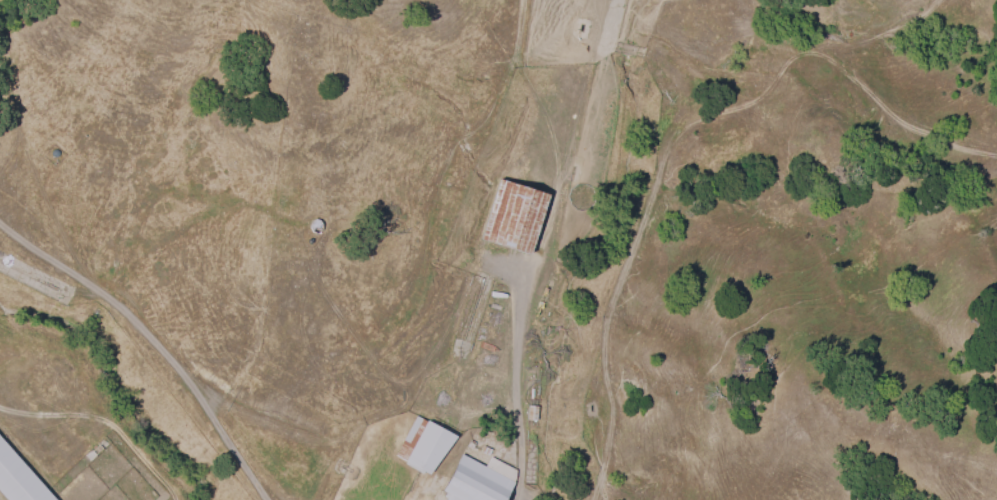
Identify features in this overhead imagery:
crop: (618, 111)
building: (513, 215)
road: (516, 392)
building: (422, 444)
building: (18, 479)
building: (477, 480)

